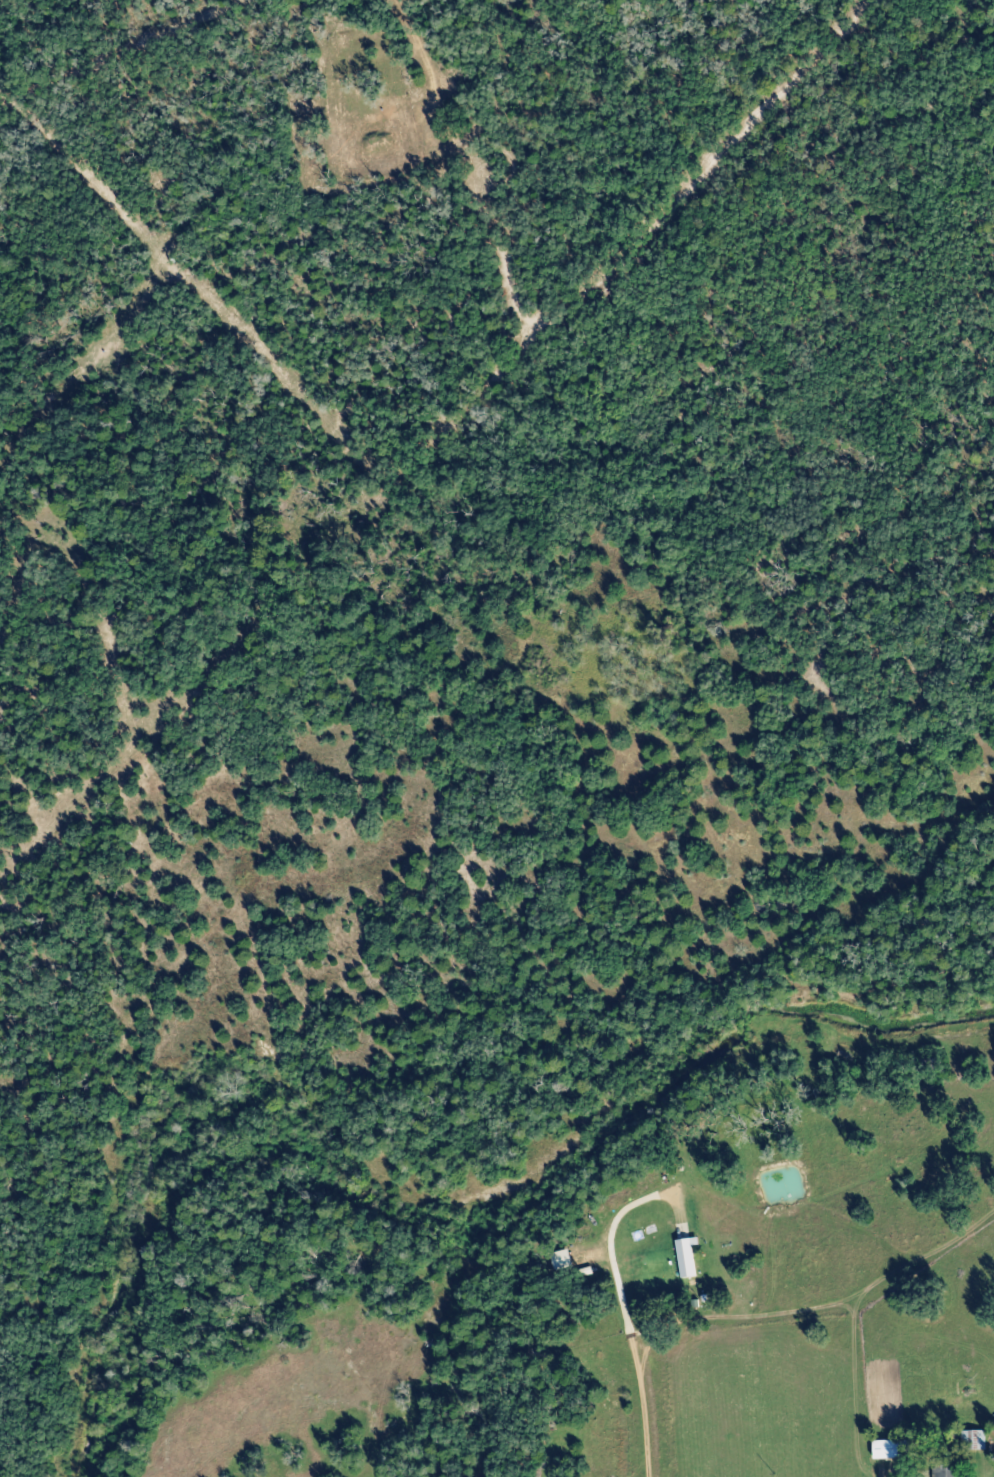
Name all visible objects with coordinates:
building: (686, 1257)
building: (562, 1260)
building: (973, 1440)
building: (891, 1449)
building: (946, 1472)

